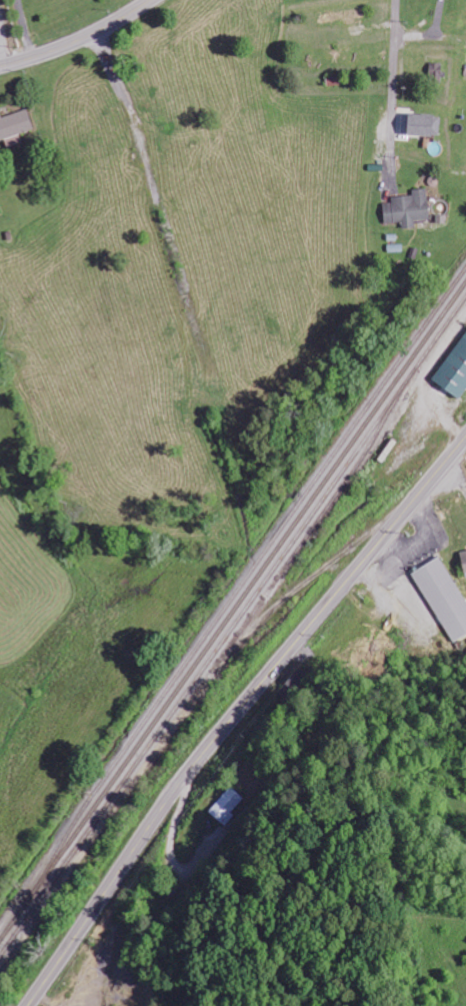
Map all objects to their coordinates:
building: (342, 16)
road: (78, 39)
road: (1, 54)
building: (437, 72)
road: (391, 76)
building: (426, 126)
building: (15, 128)
building: (409, 209)
building: (456, 376)
railway: (308, 536)
building: (464, 557)
railway: (245, 578)
building: (444, 596)
railway: (234, 613)
railway: (233, 629)
road: (236, 714)
building: (228, 805)

